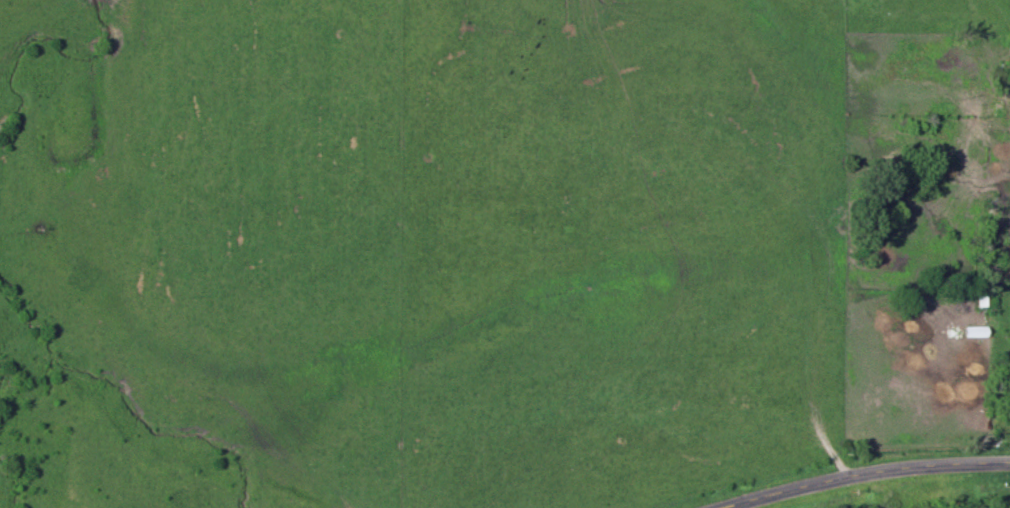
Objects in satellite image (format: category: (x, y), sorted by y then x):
road: (864, 472)

